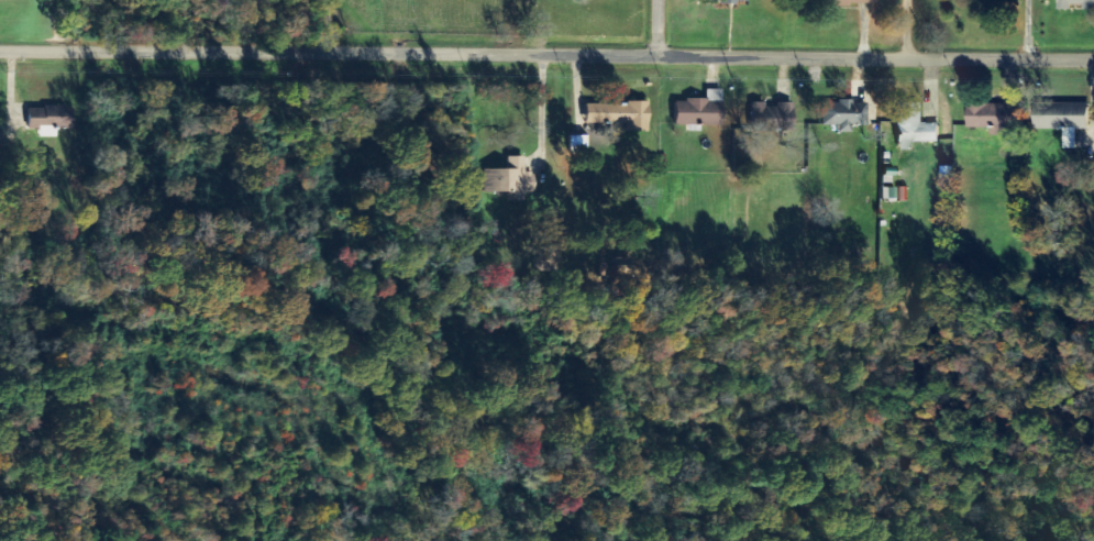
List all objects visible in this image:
building: (733, 1)
building: (850, 3)
building: (1076, 4)
road: (663, 26)
road: (922, 29)
road: (546, 53)
building: (700, 110)
building: (844, 114)
building: (620, 115)
building: (772, 117)
building: (996, 119)
building: (51, 120)
building: (1065, 120)
building: (915, 128)
building: (948, 177)
building: (510, 180)

